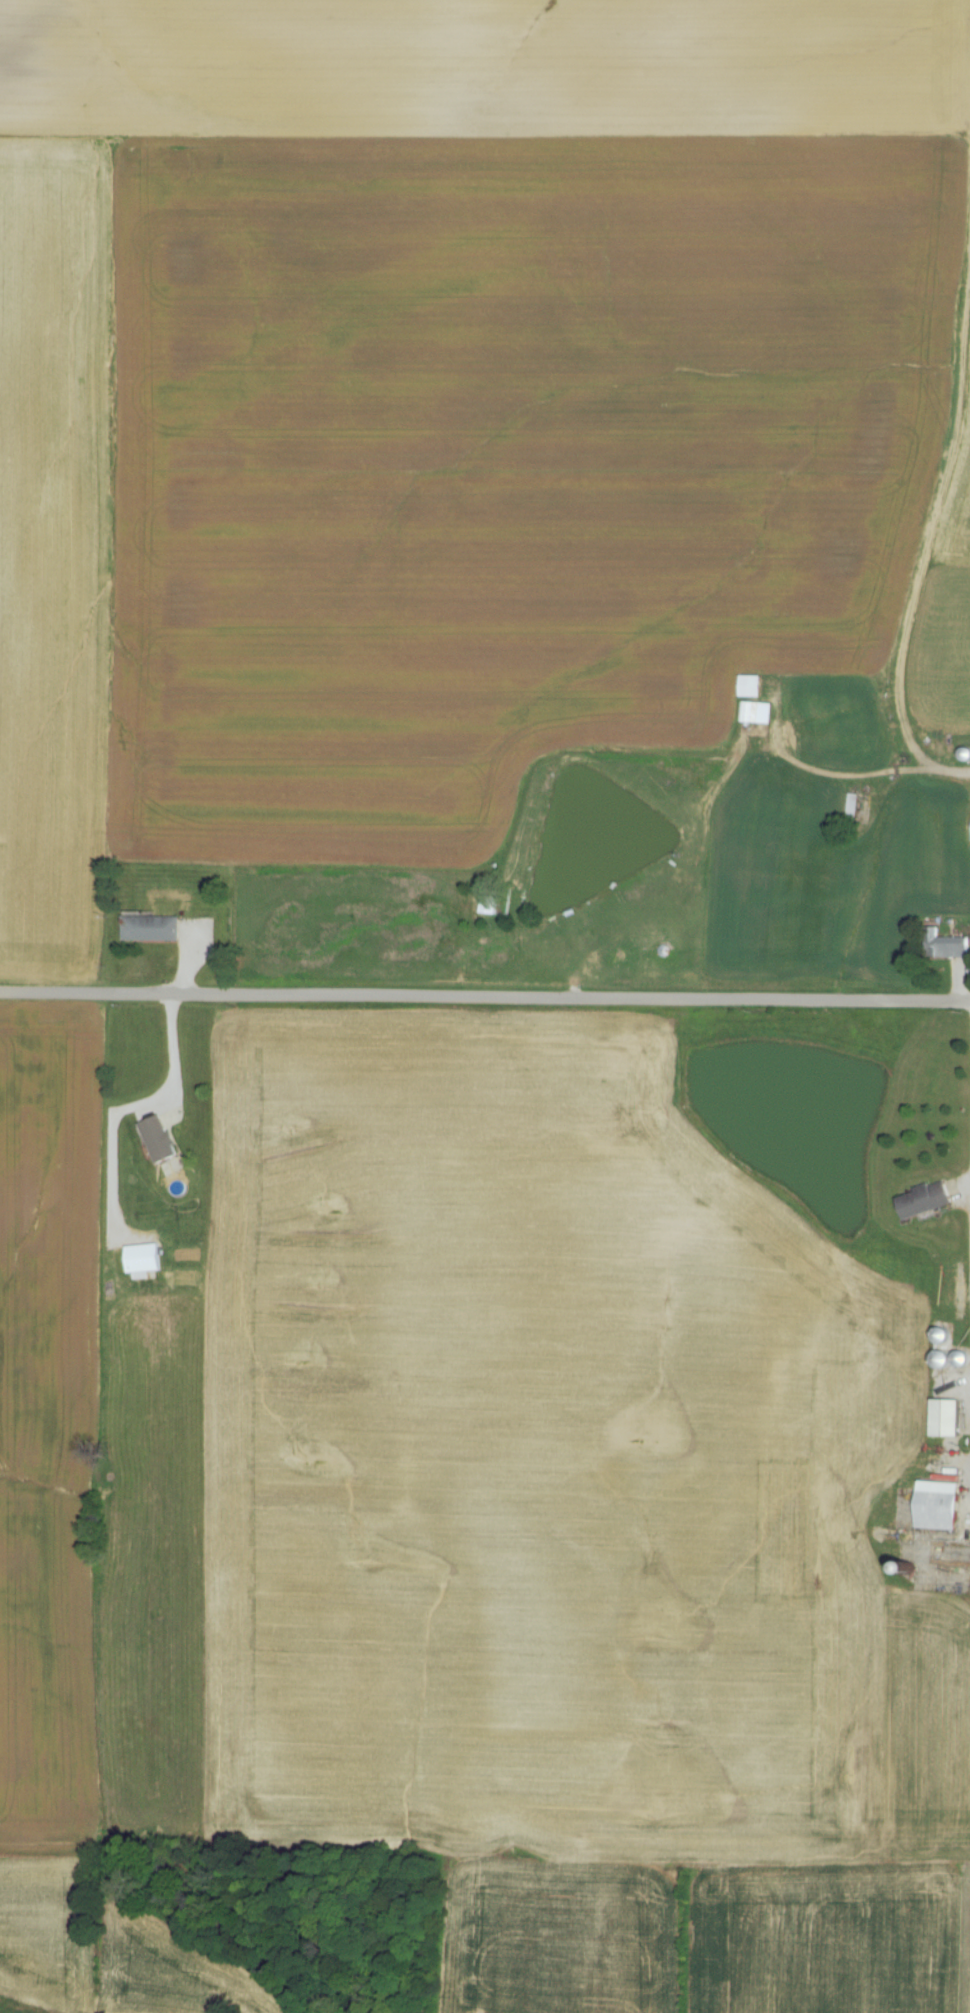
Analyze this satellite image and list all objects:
building: (753, 686)
building: (757, 712)
road: (953, 767)
building: (853, 806)
building: (490, 903)
building: (154, 928)
building: (947, 945)
road: (484, 997)
road: (173, 1049)
building: (163, 1138)
building: (929, 1199)
building: (145, 1258)
building: (951, 1359)
building: (949, 1418)
building: (941, 1505)

